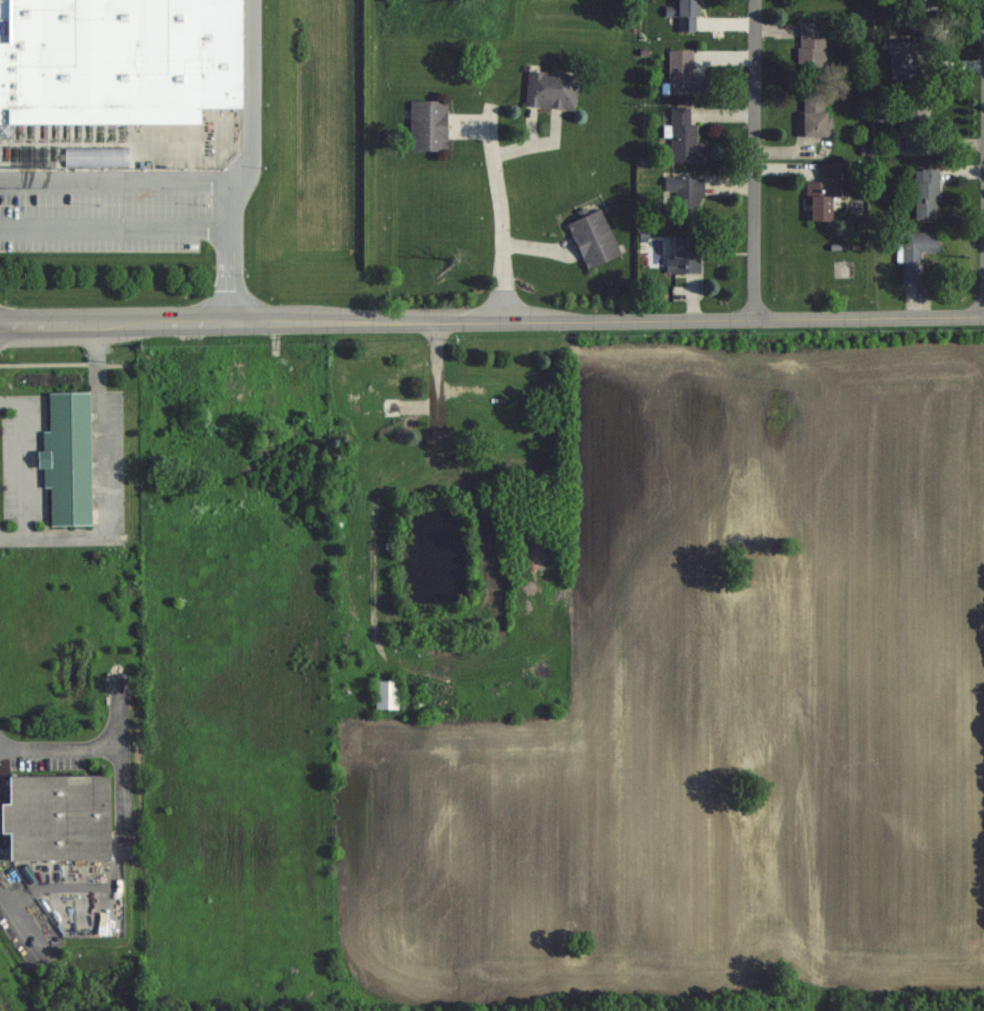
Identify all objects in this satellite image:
building: (686, 15)
building: (813, 50)
building: (904, 60)
building: (118, 62)
building: (685, 74)
building: (552, 90)
building: (816, 116)
road: (250, 118)
building: (430, 126)
building: (919, 131)
building: (686, 138)
road: (756, 159)
road: (121, 183)
building: (825, 193)
building: (927, 193)
building: (685, 198)
road: (503, 212)
road: (155, 234)
building: (595, 239)
building: (917, 253)
building: (686, 254)
road: (491, 322)
building: (238, 378)
building: (301, 394)
building: (272, 396)
building: (163, 416)
building: (69, 457)
road: (22, 461)
road: (107, 478)
building: (389, 693)
road: (89, 748)
road: (121, 786)
building: (60, 817)
road: (22, 912)

